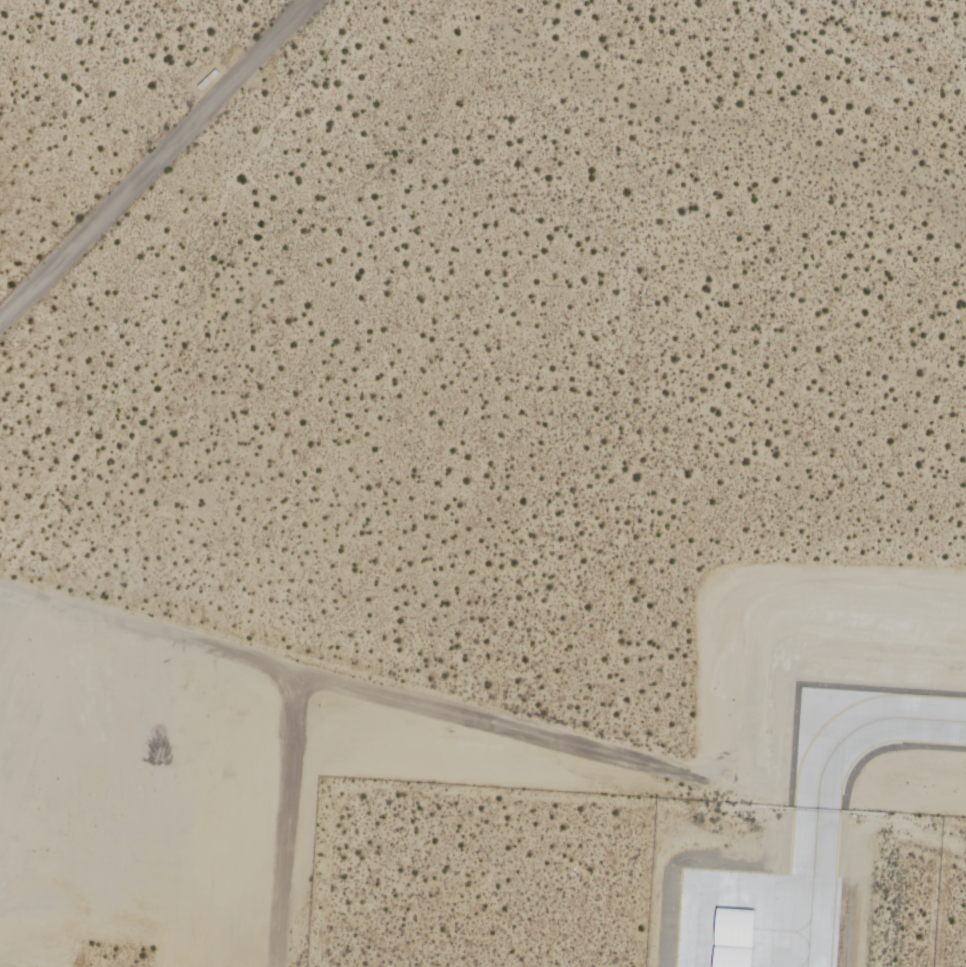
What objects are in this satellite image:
airport: (483, 483)
road: (273, 677)
airport taxiway: (819, 787)
airport hangar: (727, 940)
building: (727, 940)

